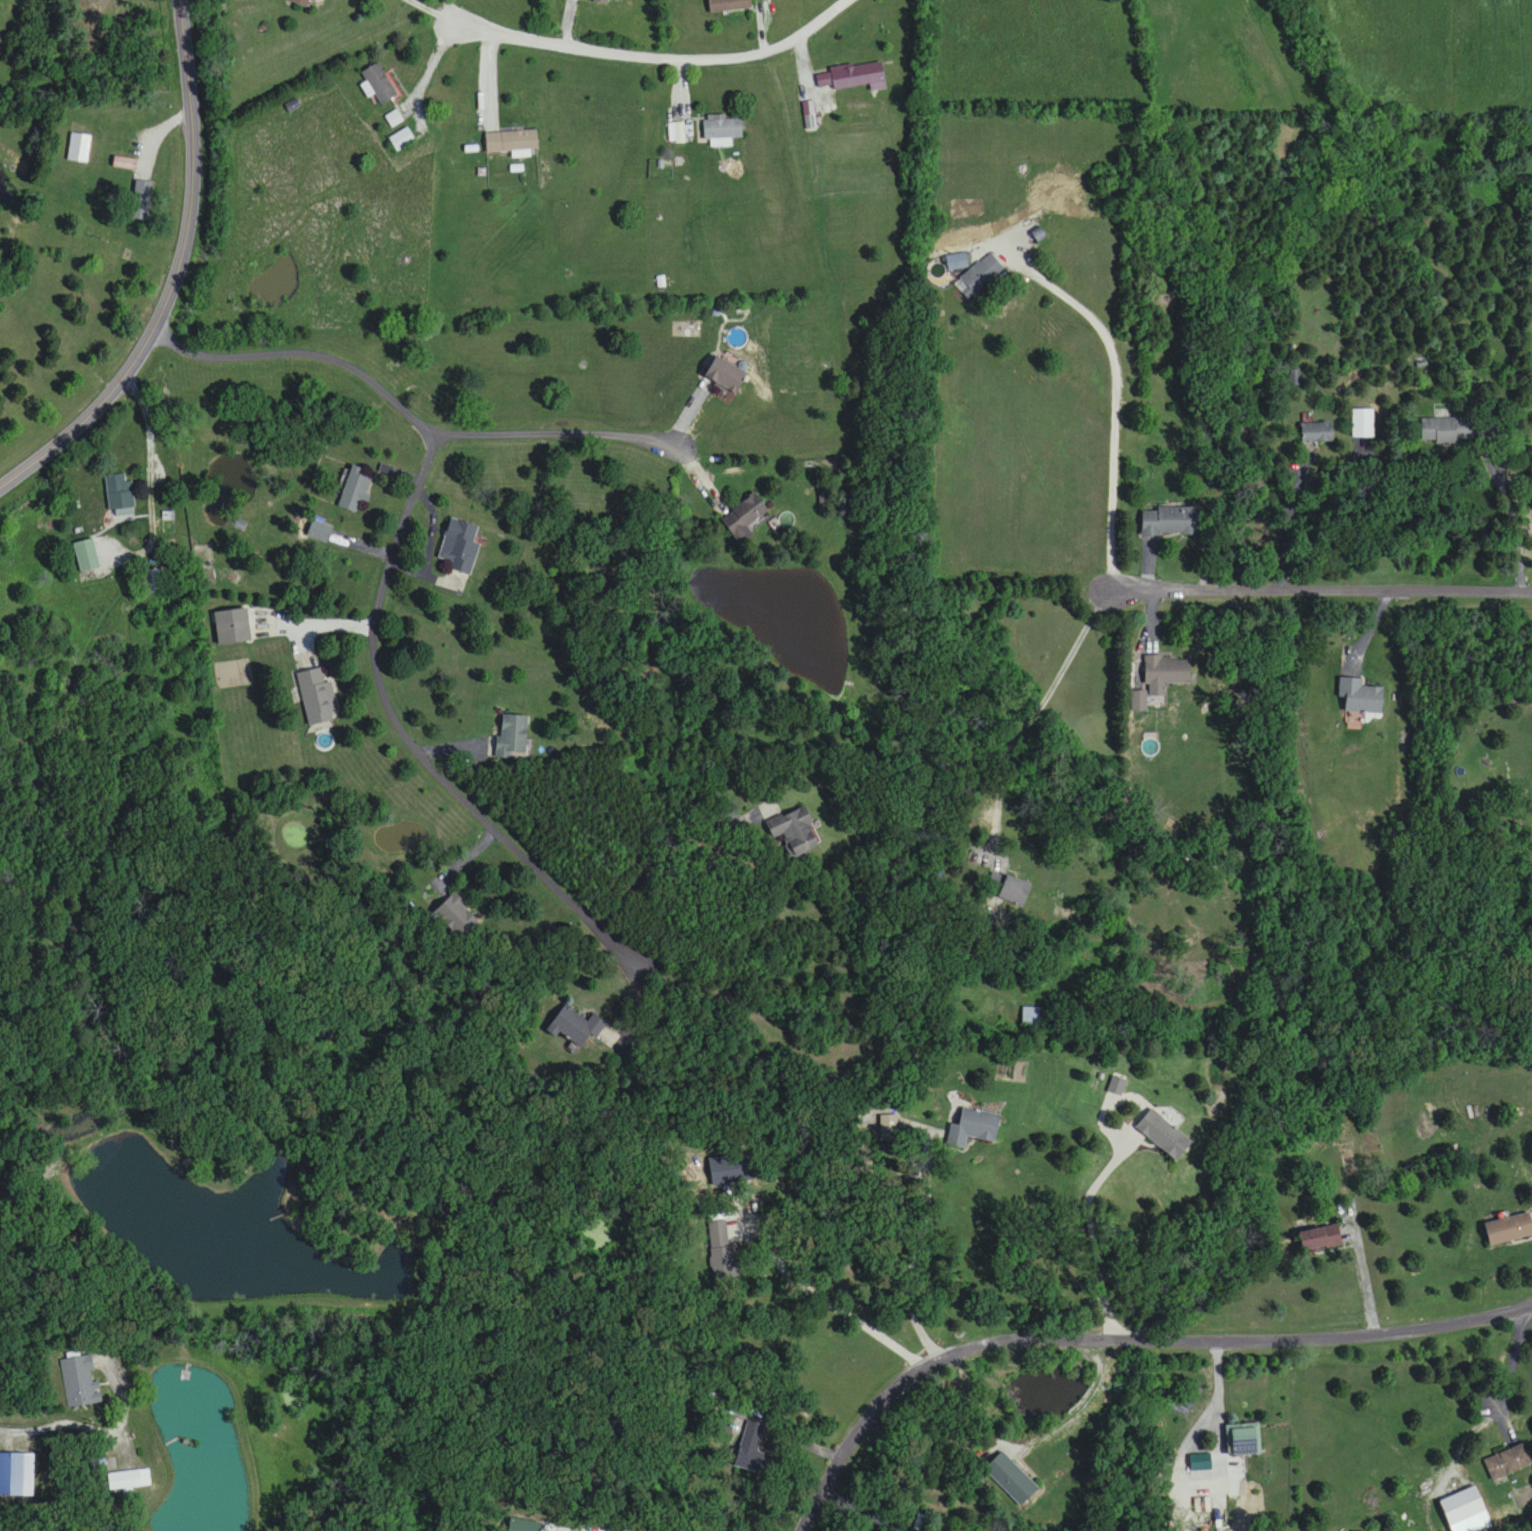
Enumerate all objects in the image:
building: (615, 0)
building: (600, 2)
building: (302, 3)
building: (729, 6)
road: (454, 11)
road: (435, 13)
road: (662, 59)
road: (428, 72)
building: (857, 76)
building: (377, 83)
building: (723, 130)
building: (677, 132)
building: (401, 139)
building: (511, 141)
building: (79, 148)
road: (147, 156)
building: (125, 163)
building: (141, 200)
building: (974, 272)
road: (174, 277)
road: (304, 352)
building: (723, 376)
building: (1363, 424)
building: (1446, 430)
building: (1317, 433)
road: (557, 434)
road: (148, 455)
building: (354, 492)
building: (119, 495)
road: (1517, 516)
building: (743, 517)
road: (1288, 519)
building: (1169, 522)
building: (319, 532)
building: (458, 545)
road: (1112, 545)
building: (86, 556)
road: (1322, 592)
road: (317, 625)
building: (230, 626)
building: (1164, 672)
building: (235, 673)
building: (315, 696)
building: (1360, 696)
road: (404, 732)
building: (510, 737)
building: (794, 831)
road: (672, 841)
building: (1012, 890)
building: (456, 917)
building: (1032, 1016)
building: (575, 1025)
building: (973, 1126)
building: (1162, 1133)
road: (1149, 1147)
building: (1508, 1229)
building: (1318, 1238)
building: (722, 1249)
road: (1363, 1273)
road: (848, 1314)
road: (1123, 1340)
road: (1505, 1371)
building: (80, 1382)
road: (996, 1431)
road: (62, 1432)
building: (1244, 1439)
building: (752, 1450)
building: (1507, 1462)
road: (1220, 1465)
building: (11, 1468)
building: (1010, 1479)
building: (128, 1480)
building: (1462, 1506)
road: (865, 1508)

